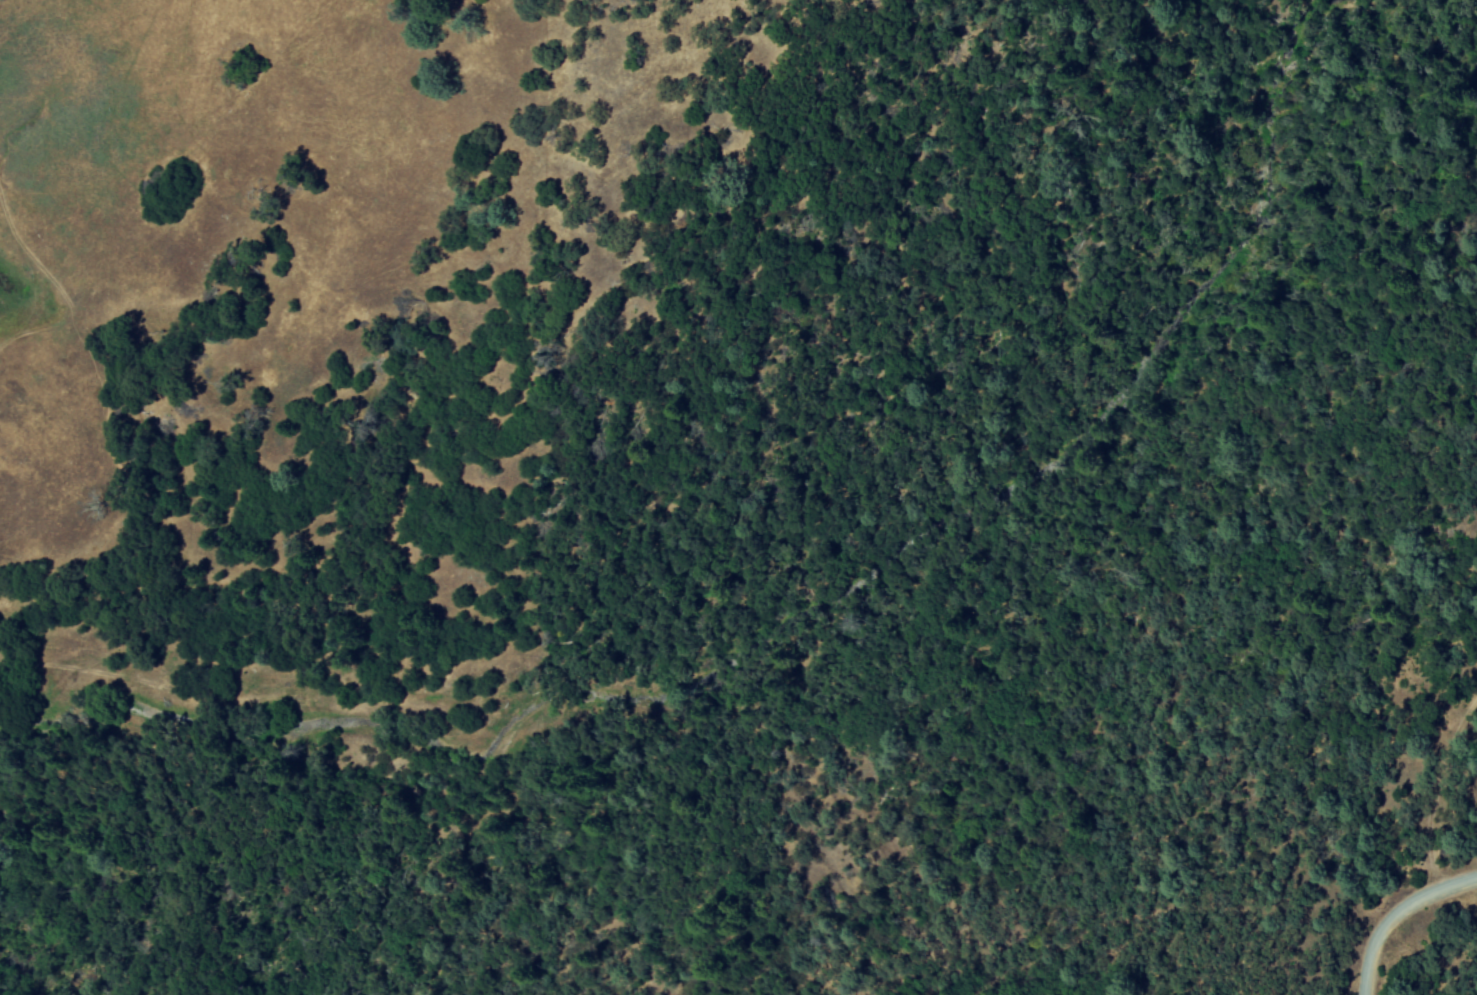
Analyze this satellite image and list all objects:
road: (1398, 914)

